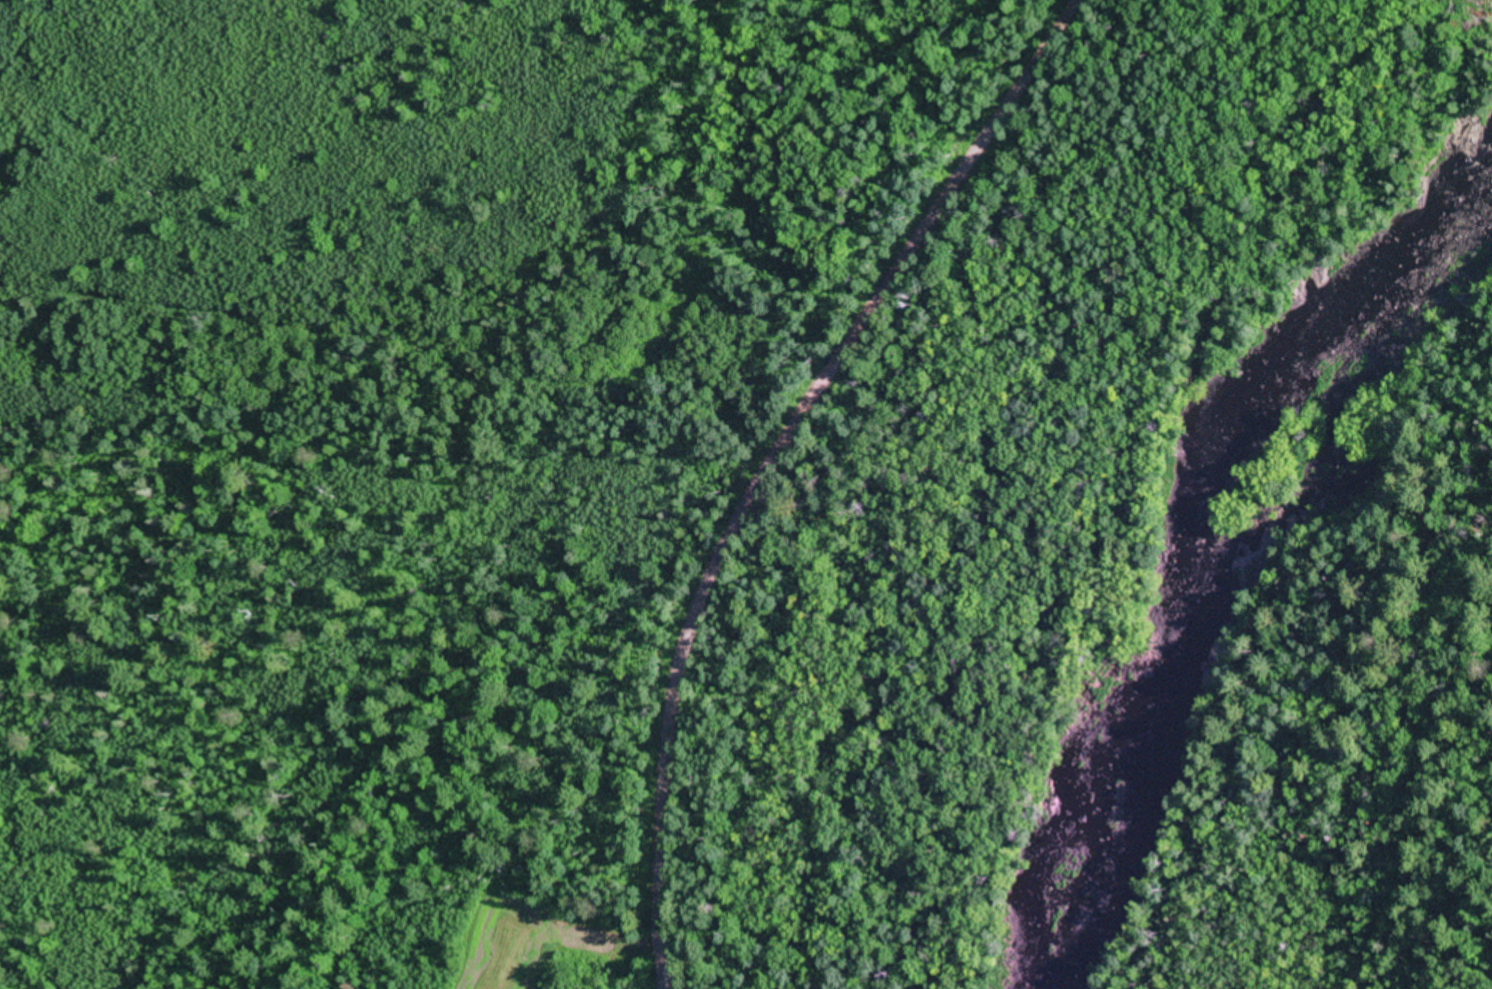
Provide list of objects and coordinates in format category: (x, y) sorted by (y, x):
road: (766, 468)
river: (1225, 563)

